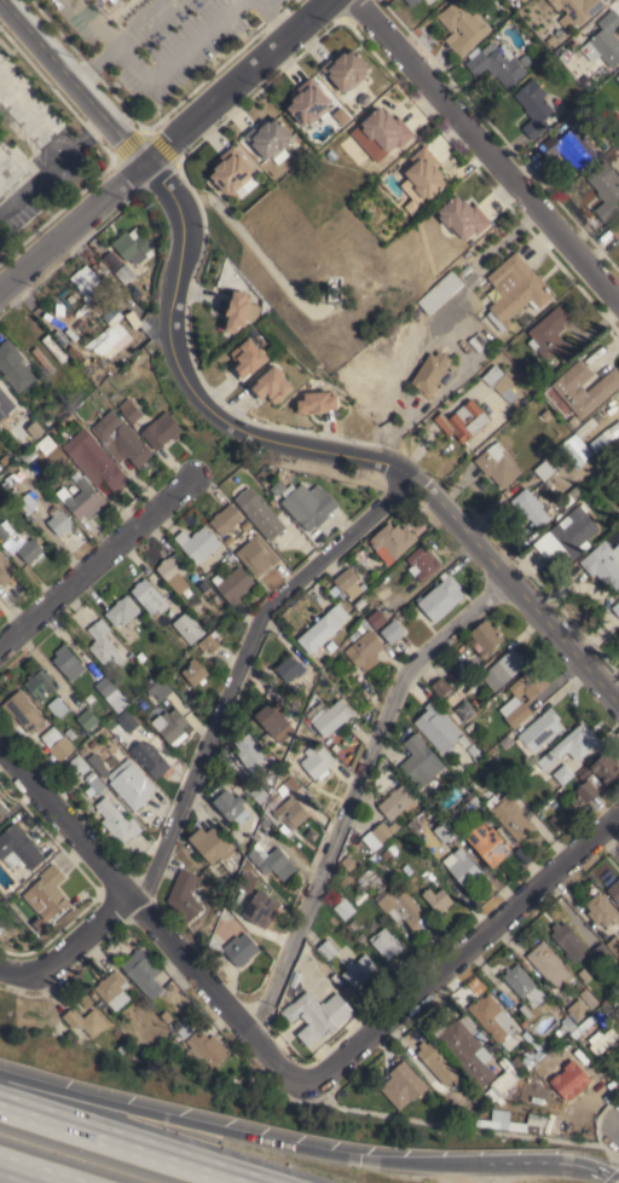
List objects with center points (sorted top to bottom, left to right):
building: (105, 0)
building: (114, 0)
building: (411, 2)
building: (578, 7)
road: (270, 16)
road: (140, 22)
building: (462, 27)
building: (604, 40)
building: (562, 54)
road: (178, 57)
road: (94, 62)
building: (496, 63)
building: (346, 69)
building: (617, 77)
road: (71, 80)
road: (231, 80)
building: (585, 82)
building: (308, 102)
building: (536, 105)
building: (578, 111)
road: (31, 117)
building: (386, 129)
building: (270, 139)
road: (486, 148)
building: (568, 148)
road: (52, 165)
building: (231, 171)
building: (424, 173)
building: (604, 189)
building: (463, 217)
road: (70, 223)
building: (615, 230)
building: (133, 246)
building: (123, 273)
building: (87, 282)
building: (441, 290)
building: (516, 290)
building: (70, 299)
building: (59, 311)
building: (239, 311)
building: (135, 321)
building: (551, 334)
building: (110, 335)
building: (247, 358)
building: (13, 367)
building: (89, 367)
building: (430, 370)
building: (102, 371)
building: (499, 382)
building: (272, 385)
building: (569, 388)
building: (523, 400)
building: (5, 402)
building: (317, 402)
building: (129, 410)
building: (546, 414)
building: (462, 420)
building: (574, 421)
building: (35, 429)
building: (161, 429)
building: (16, 433)
building: (120, 439)
building: (45, 443)
building: (603, 450)
road: (326, 451)
building: (28, 454)
building: (94, 460)
building: (497, 463)
building: (543, 469)
building: (598, 478)
building: (74, 487)
building: (276, 487)
building: (81, 496)
building: (571, 496)
building: (272, 501)
building: (28, 503)
building: (308, 504)
building: (530, 507)
building: (259, 513)
building: (226, 519)
building: (59, 521)
building: (244, 524)
building: (5, 529)
building: (567, 535)
building: (227, 538)
building: (392, 541)
building: (198, 544)
building: (29, 549)
building: (258, 554)
building: (232, 558)
road: (98, 561)
building: (423, 562)
building: (603, 564)
building: (6, 570)
building: (174, 570)
building: (348, 582)
building: (233, 584)
building: (203, 585)
building: (149, 596)
building: (441, 598)
building: (359, 604)
building: (615, 607)
building: (122, 610)
building: (337, 613)
building: (376, 618)
building: (187, 627)
building: (359, 629)
building: (392, 630)
building: (320, 635)
building: (486, 637)
building: (208, 642)
building: (104, 645)
building: (365, 650)
building: (140, 656)
building: (68, 662)
building: (507, 665)
road: (241, 668)
building: (290, 668)
building: (195, 671)
building: (456, 677)
building: (40, 682)
building: (526, 683)
building: (440, 686)
building: (160, 688)
building: (111, 693)
building: (89, 698)
building: (57, 706)
building: (464, 709)
building: (23, 710)
building: (517, 714)
building: (329, 715)
building: (87, 719)
building: (276, 720)
building: (128, 722)
building: (170, 725)
building: (438, 727)
building: (469, 727)
building: (538, 731)
building: (309, 732)
building: (70, 733)
building: (464, 740)
building: (507, 741)
building: (57, 744)
building: (569, 745)
building: (82, 750)
building: (474, 751)
building: (250, 752)
building: (290, 754)
building: (150, 757)
building: (317, 761)
building: (418, 761)
building: (97, 764)
building: (604, 766)
building: (76, 767)
building: (475, 767)
building: (584, 772)
building: (487, 773)
building: (504, 773)
building: (283, 775)
building: (557, 779)
building: (96, 783)
building: (131, 784)
building: (291, 784)
building: (586, 790)
road: (354, 792)
building: (259, 794)
building: (556, 796)
building: (395, 801)
building: (230, 804)
building: (2, 810)
building: (467, 810)
building: (291, 812)
building: (510, 815)
building: (116, 820)
building: (264, 821)
building: (553, 821)
building: (384, 830)
building: (445, 831)
building: (210, 843)
building: (488, 843)
building: (18, 848)
building: (386, 854)
building: (521, 856)
building: (272, 860)
building: (463, 867)
building: (363, 877)
building: (245, 882)
building: (50, 890)
building: (614, 890)
building: (184, 895)
building: (359, 896)
building: (438, 899)
building: (343, 907)
building: (403, 907)
building: (261, 908)
building: (601, 910)
road: (151, 923)
building: (40, 924)
building: (353, 927)
building: (361, 937)
building: (567, 940)
building: (386, 943)
building: (614, 943)
building: (213, 948)
building: (241, 948)
building: (328, 950)
road: (66, 951)
building: (601, 953)
road: (463, 954)
building: (548, 963)
building: (359, 970)
building: (143, 973)
building: (584, 975)
building: (337, 979)
building: (523, 985)
building: (111, 986)
building: (588, 997)
building: (617, 1005)
building: (578, 1009)
building: (317, 1015)
building: (86, 1020)
building: (493, 1020)
building: (600, 1020)
building: (469, 1023)
building: (565, 1026)
building: (583, 1027)
building: (184, 1029)
building: (116, 1033)
building: (175, 1038)
building: (530, 1040)
building: (604, 1041)
building: (563, 1043)
building: (122, 1046)
building: (204, 1049)
building: (467, 1051)
building: (517, 1063)
building: (438, 1066)
building: (618, 1069)
building: (504, 1078)
building: (568, 1080)
building: (403, 1085)
building: (490, 1095)
building: (463, 1119)
building: (494, 1119)
road: (462, 1129)
road: (249, 1136)
road: (125, 1143)
road: (560, 1167)
road: (30, 1172)

